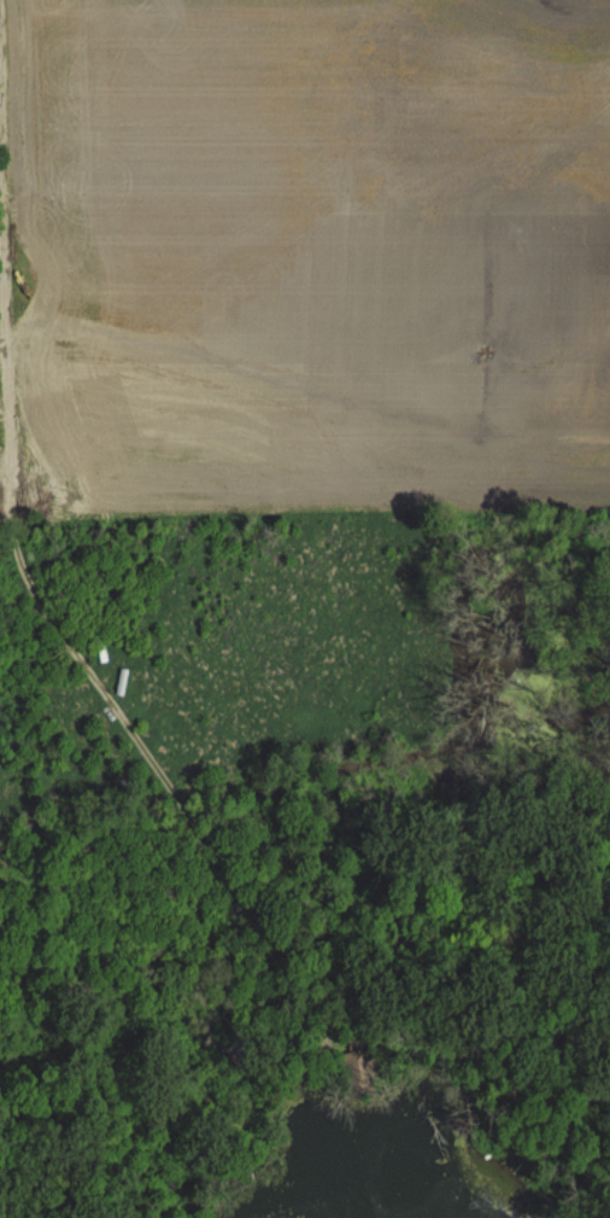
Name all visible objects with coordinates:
road: (13, 519)
building: (234, 1051)
building: (212, 1073)

